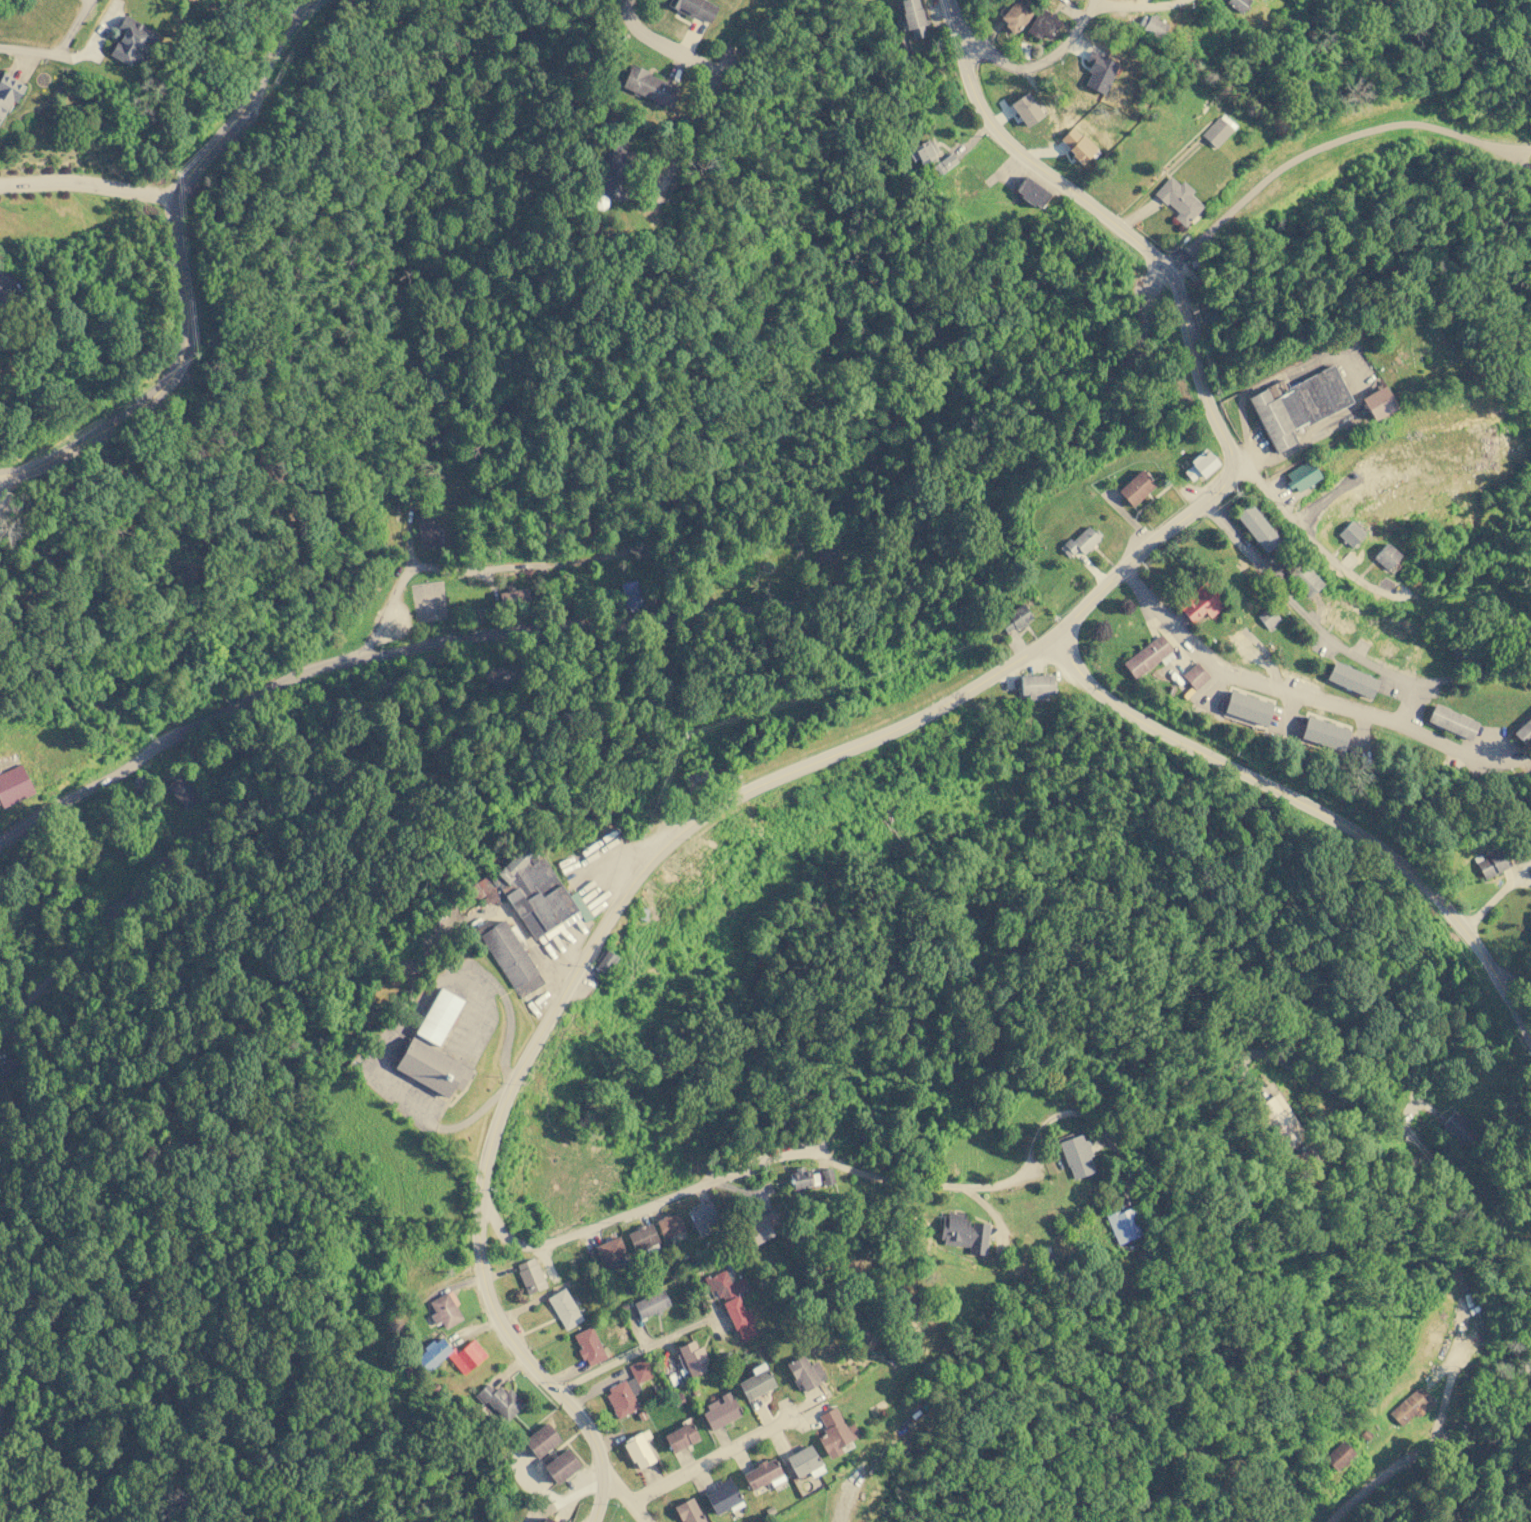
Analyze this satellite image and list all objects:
road: (1092, 4)
building: (1236, 4)
building: (695, 8)
building: (1015, 15)
building: (912, 17)
building: (1042, 24)
building: (1151, 25)
building: (130, 41)
road: (1066, 45)
road: (661, 46)
building: (1098, 71)
building: (649, 86)
building: (8, 91)
building: (1025, 108)
building: (1215, 131)
road: (1329, 146)
building: (922, 150)
building: (944, 163)
building: (612, 170)
road: (88, 184)
building: (1030, 192)
building: (1178, 199)
road: (1109, 224)
road: (178, 266)
road: (1342, 355)
building: (1378, 402)
building: (1296, 405)
building: (1200, 465)
building: (1302, 475)
building: (1135, 488)
building: (1256, 528)
building: (427, 530)
building: (1350, 533)
building: (1082, 540)
road: (1316, 550)
building: (1386, 556)
building: (827, 558)
building: (1305, 580)
building: (630, 595)
building: (513, 597)
building: (1199, 605)
road: (1318, 613)
building: (1339, 614)
building: (1267, 617)
building: (1014, 619)
road: (638, 624)
building: (1393, 636)
building: (1237, 643)
building: (1148, 656)
building: (1194, 676)
building: (497, 677)
building: (1351, 679)
building: (1035, 686)
road: (1313, 698)
road: (1425, 706)
building: (1246, 707)
building: (1451, 721)
building: (1523, 732)
building: (1323, 733)
road: (802, 764)
building: (137, 784)
building: (14, 785)
building: (182, 793)
road: (1313, 808)
building: (1492, 864)
building: (527, 892)
road: (1499, 901)
building: (508, 954)
building: (604, 962)
building: (438, 1016)
building: (431, 1067)
building: (1280, 1121)
building: (1457, 1126)
road: (817, 1155)
building: (1076, 1156)
building: (827, 1176)
building: (800, 1178)
road: (1467, 1199)
building: (703, 1219)
building: (670, 1225)
building: (1123, 1225)
building: (759, 1229)
building: (964, 1233)
building: (642, 1237)
building: (605, 1252)
building: (529, 1275)
building: (732, 1302)
building: (651, 1304)
building: (564, 1308)
building: (445, 1310)
building: (589, 1346)
road: (520, 1354)
building: (450, 1355)
road: (636, 1355)
building: (691, 1359)
building: (804, 1372)
building: (756, 1382)
building: (627, 1390)
building: (499, 1401)
building: (1410, 1406)
building: (721, 1411)
building: (834, 1432)
building: (680, 1437)
building: (540, 1440)
road: (1431, 1443)
building: (638, 1449)
building: (1338, 1455)
road: (712, 1459)
building: (803, 1462)
building: (560, 1466)
building: (762, 1474)
building: (722, 1496)
road: (627, 1498)
building: (689, 1511)
building: (546, 1520)

